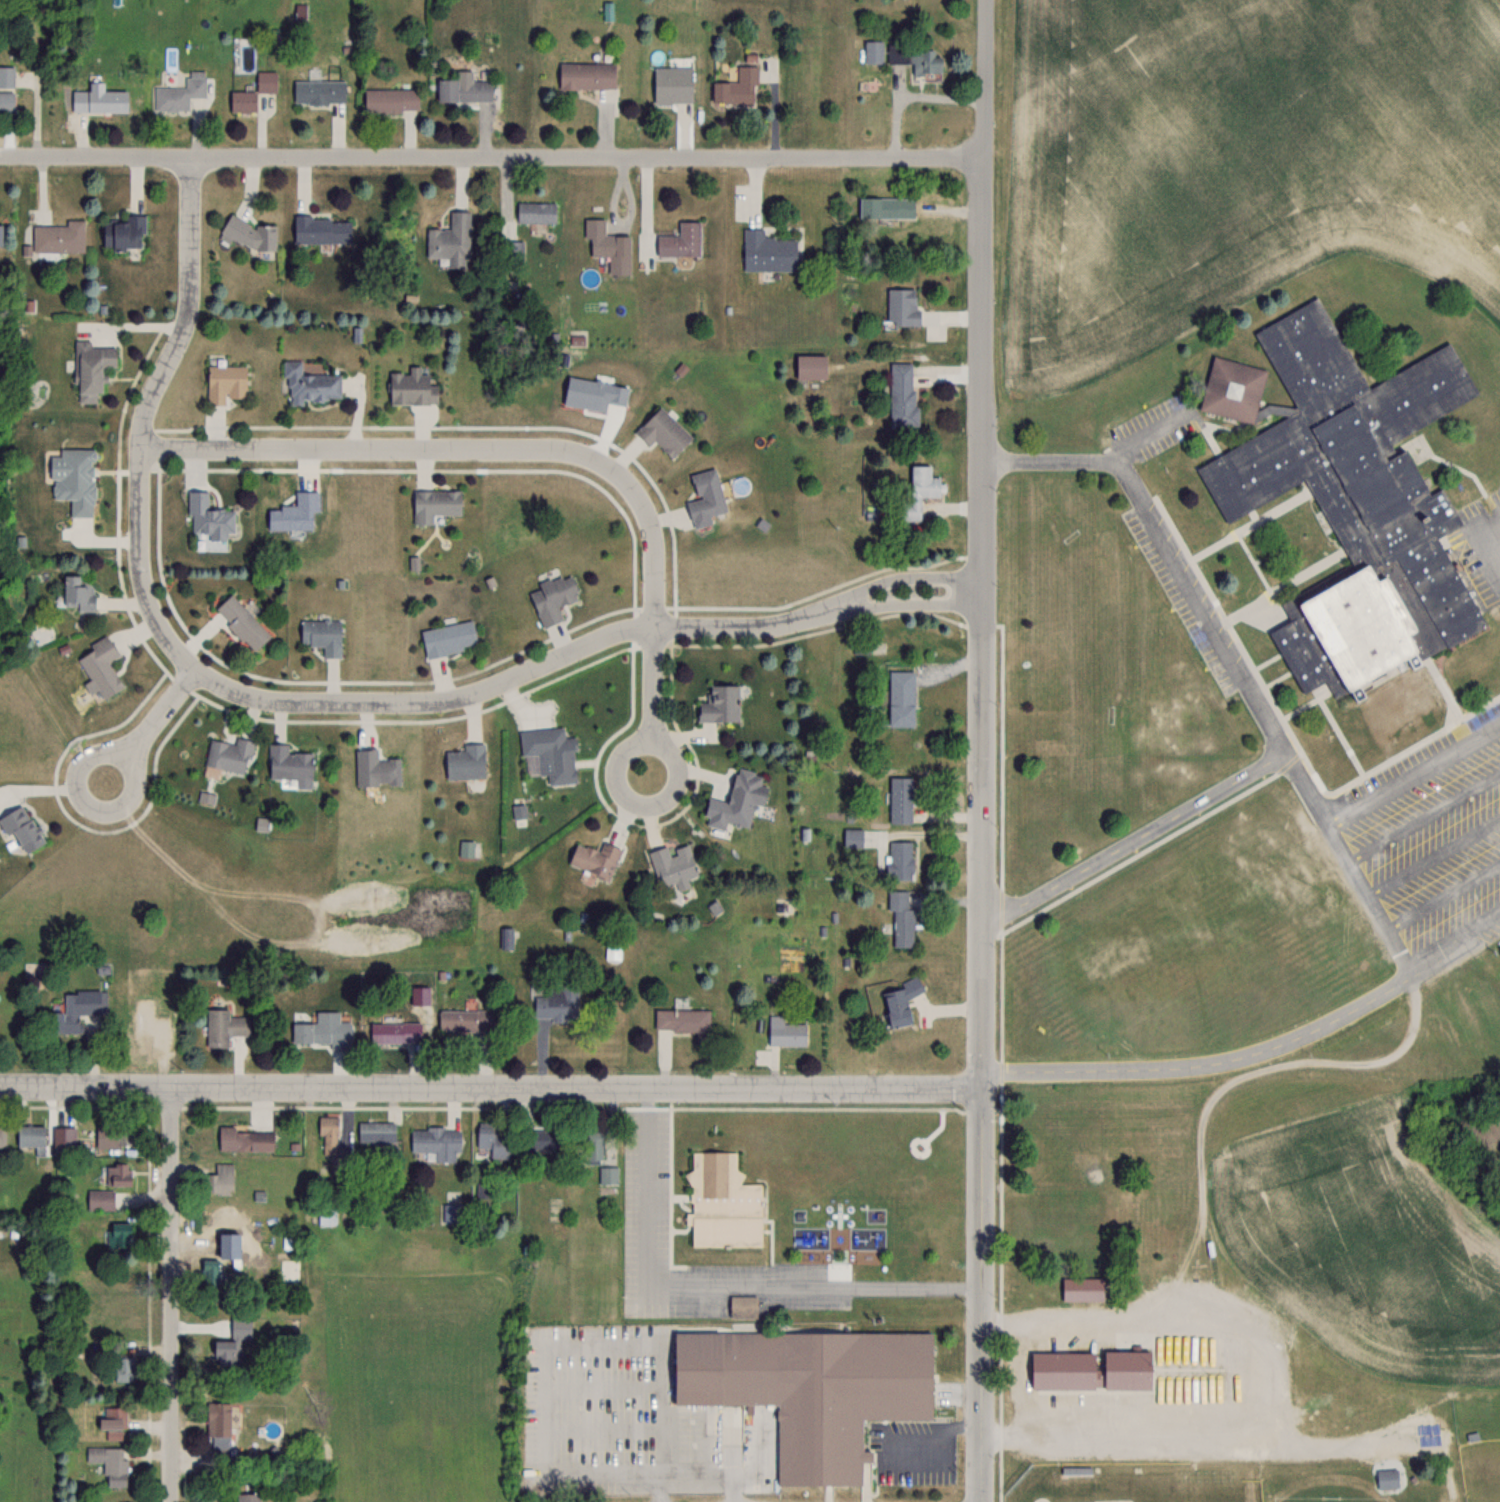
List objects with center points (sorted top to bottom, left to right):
building: (874, 52)
building: (925, 61)
building: (6, 76)
building: (586, 76)
building: (265, 82)
building: (672, 85)
building: (736, 88)
building: (464, 91)
building: (318, 92)
building: (180, 94)
road: (910, 94)
building: (98, 100)
building: (390, 100)
building: (5, 101)
building: (242, 103)
road: (492, 159)
building: (886, 208)
building: (536, 212)
building: (321, 231)
building: (124, 234)
building: (249, 235)
building: (58, 238)
building: (450, 241)
building: (680, 241)
building: (608, 246)
building: (512, 253)
building: (767, 253)
building: (902, 306)
building: (810, 366)
building: (90, 370)
building: (224, 383)
building: (308, 384)
building: (410, 387)
building: (901, 395)
building: (662, 431)
road: (1142, 435)
road: (537, 450)
building: (72, 479)
building: (918, 493)
building: (704, 497)
building: (1350, 502)
building: (433, 504)
building: (208, 517)
road: (1492, 544)
road: (1184, 583)
building: (78, 592)
building: (552, 597)
building: (241, 622)
building: (321, 635)
building: (448, 638)
building: (100, 667)
building: (900, 697)
road: (328, 701)
building: (720, 704)
road: (150, 726)
road: (985, 750)
building: (551, 753)
building: (229, 755)
building: (465, 762)
building: (290, 765)
building: (376, 769)
road: (1485, 772)
road: (1415, 778)
building: (900, 799)
building: (736, 801)
road: (1471, 812)
road: (1324, 817)
building: (20, 828)
road: (1135, 841)
parking lot: (1426, 848)
road: (1450, 853)
building: (595, 859)
building: (899, 859)
building: (672, 863)
road: (1417, 870)
building: (901, 918)
road: (1398, 937)
building: (615, 950)
building: (556, 1001)
building: (899, 1001)
building: (71, 1011)
building: (681, 1019)
building: (463, 1020)
building: (223, 1027)
building: (321, 1030)
building: (784, 1031)
building: (395, 1033)
road: (1201, 1066)
road: (490, 1087)
building: (375, 1132)
building: (3, 1134)
building: (328, 1134)
building: (111, 1135)
building: (30, 1137)
building: (494, 1139)
building: (242, 1140)
building: (538, 1140)
building: (63, 1141)
building: (436, 1142)
building: (588, 1145)
building: (116, 1175)
building: (220, 1180)
building: (99, 1200)
building: (723, 1203)
building: (117, 1235)
building: (207, 1273)
road: (718, 1282)
building: (1083, 1288)
road: (172, 1294)
building: (742, 1306)
road: (547, 1340)
building: (221, 1352)
building: (122, 1369)
building: (1125, 1369)
building: (1061, 1370)
road: (1017, 1376)
building: (809, 1390)
building: (217, 1421)
building: (112, 1423)
road: (939, 1441)
building: (109, 1464)
building: (1073, 1469)
road: (696, 1474)
building: (1387, 1478)
road: (648, 1489)
park: (1133, 1489)
building: (247, 1497)

